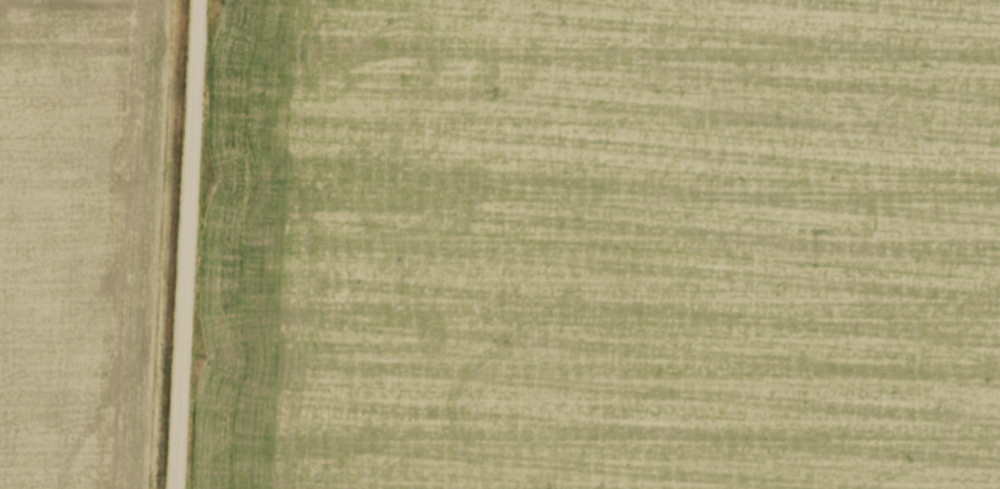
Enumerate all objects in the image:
crop: (82, 238)
road: (185, 244)
crop: (600, 245)

